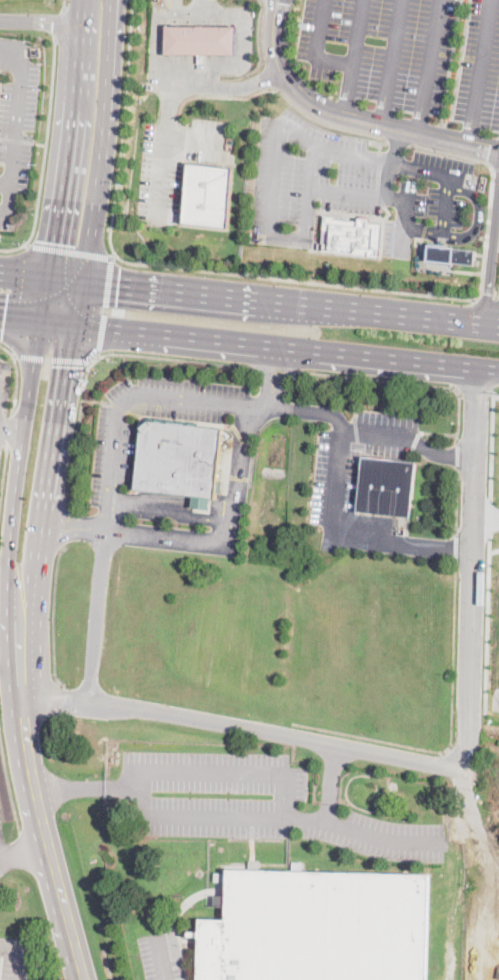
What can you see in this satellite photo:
road: (63, 3)
road: (204, 6)
road: (39, 20)
road: (60, 20)
road: (260, 30)
building: (200, 40)
parking lot: (408, 52)
road: (335, 58)
road: (391, 61)
road: (449, 62)
road: (195, 63)
road: (428, 65)
road: (459, 65)
road: (481, 71)
road: (269, 73)
road: (194, 74)
road: (206, 85)
road: (274, 86)
road: (347, 88)
road: (19, 113)
road: (348, 116)
parking lot: (17, 135)
road: (17, 139)
road: (372, 139)
road: (398, 139)
road: (102, 140)
road: (41, 142)
road: (394, 143)
road: (166, 148)
road: (45, 152)
road: (67, 161)
parking lot: (174, 163)
road: (496, 168)
road: (378, 177)
parking lot: (350, 184)
road: (272, 185)
road: (366, 192)
building: (209, 196)
road: (11, 201)
road: (357, 213)
road: (478, 214)
road: (445, 216)
building: (353, 233)
road: (402, 238)
traffic signals: (55, 242)
road: (67, 249)
road: (491, 250)
road: (113, 253)
building: (452, 255)
road: (467, 269)
road: (41, 276)
road: (276, 276)
traffic signals: (118, 284)
road: (16, 296)
road: (487, 298)
road: (291, 302)
road: (79, 303)
road: (104, 304)
traffic signals: (4, 315)
road: (37, 320)
road: (498, 320)
road: (6, 346)
road: (286, 351)
road: (101, 353)
road: (51, 355)
traffic signals: (68, 365)
road: (275, 367)
road: (236, 374)
road: (272, 377)
road: (417, 381)
road: (15, 382)
road: (475, 391)
road: (130, 394)
road: (496, 395)
road: (350, 396)
road: (95, 400)
road: (123, 409)
road: (312, 409)
road: (9, 431)
road: (11, 431)
road: (379, 433)
road: (357, 435)
road: (492, 443)
road: (458, 451)
road: (444, 452)
parking lot: (113, 453)
building: (180, 460)
road: (18, 474)
parking lot: (356, 476)
road: (3, 478)
road: (49, 479)
road: (341, 481)
building: (386, 484)
road: (457, 501)
road: (172, 508)
road: (490, 516)
road: (65, 521)
road: (488, 523)
road: (74, 525)
road: (233, 535)
road: (406, 540)
road: (456, 548)
road: (494, 549)
road: (476, 570)
road: (54, 616)
road: (95, 616)
road: (487, 624)
road: (21, 711)
road: (245, 727)
road: (452, 737)
road: (9, 780)
road: (329, 781)
road: (85, 785)
road: (284, 793)
parking lot: (255, 803)
road: (362, 831)
road: (26, 854)
road: (0, 857)
road: (61, 885)
building: (317, 926)
road: (38, 942)
parking lot: (161, 955)
road: (159, 959)

